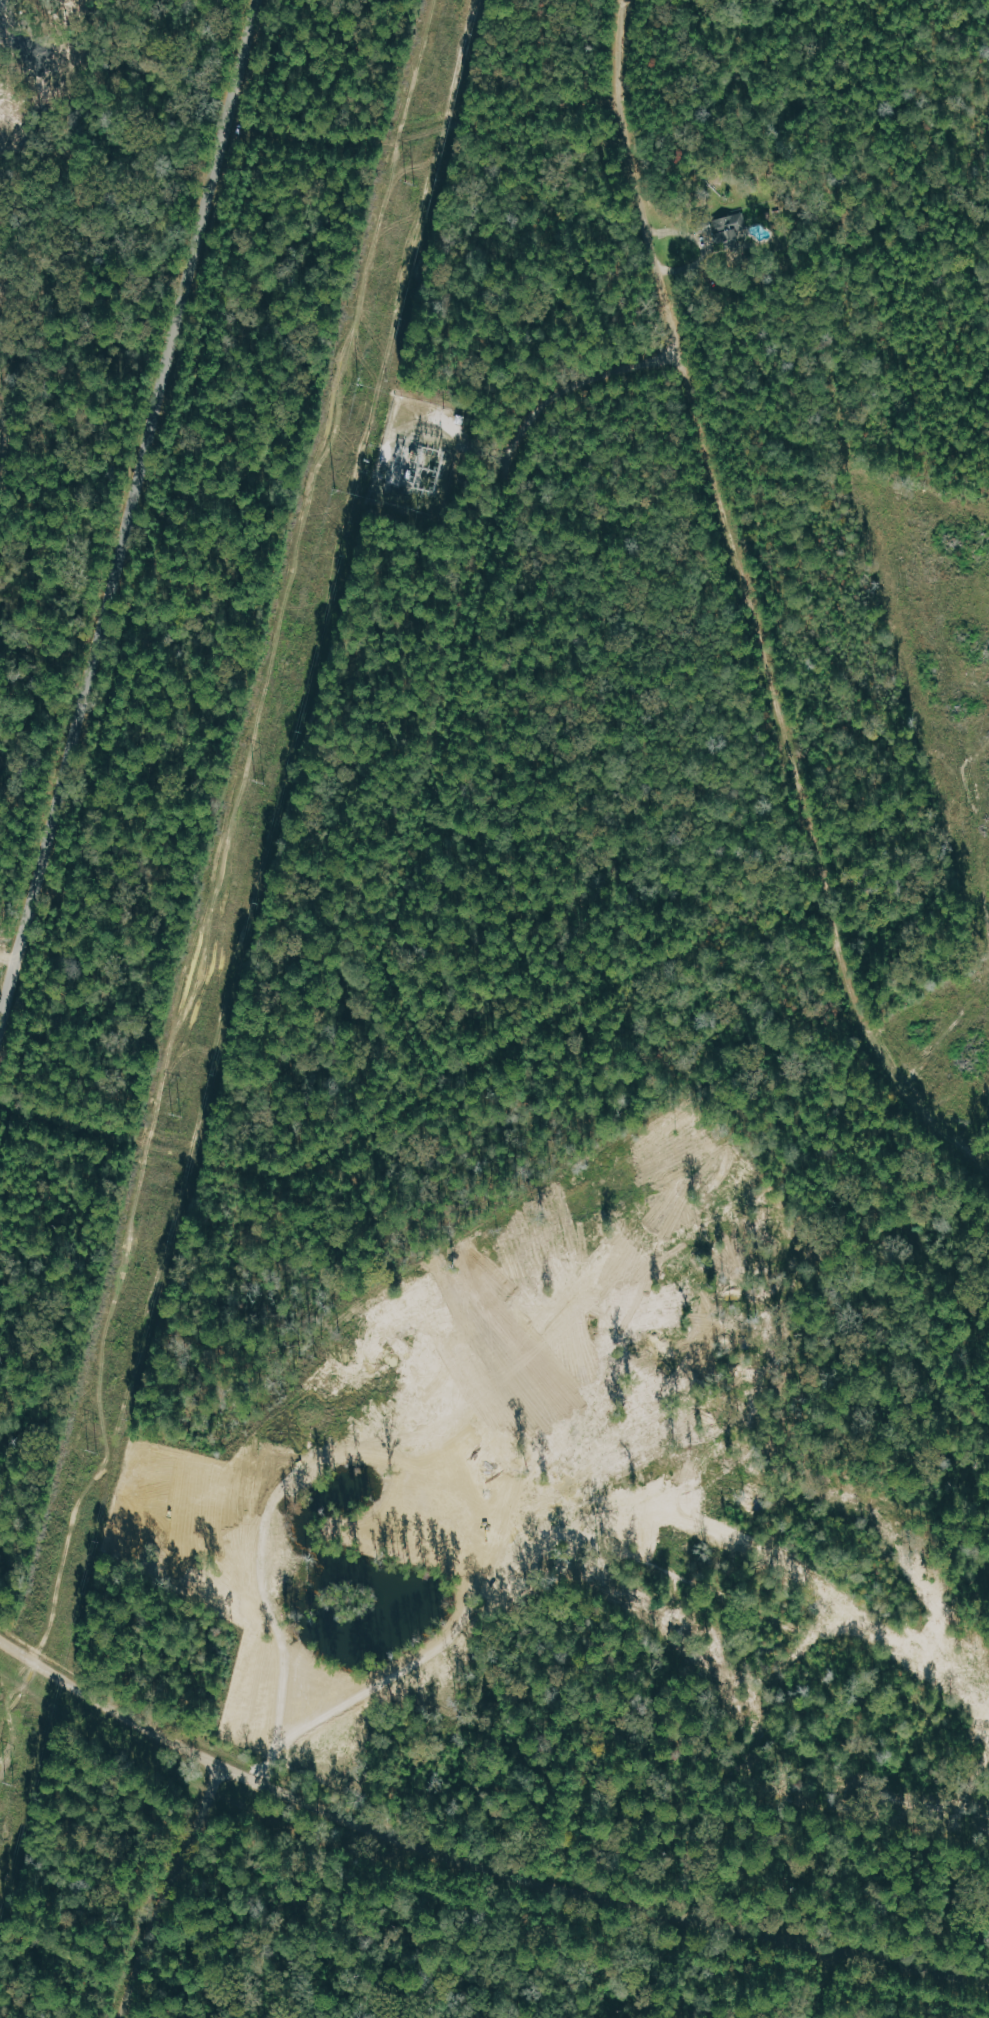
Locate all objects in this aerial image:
power tower: (408, 185)
building: (730, 233)
power tower: (359, 386)
power tower: (442, 409)
power substation: (417, 454)
power tower: (335, 488)
power tower: (415, 509)
road: (132, 516)
road: (752, 607)
road: (457, 667)
power tower: (258, 782)
road: (9, 959)
road: (422, 1094)
power tower: (175, 1114)
power tower: (91, 1451)
road: (419, 1480)
road: (118, 1711)
power tower: (9, 1785)
road: (580, 1811)
road: (170, 1890)
road: (609, 1901)
road: (823, 1983)

